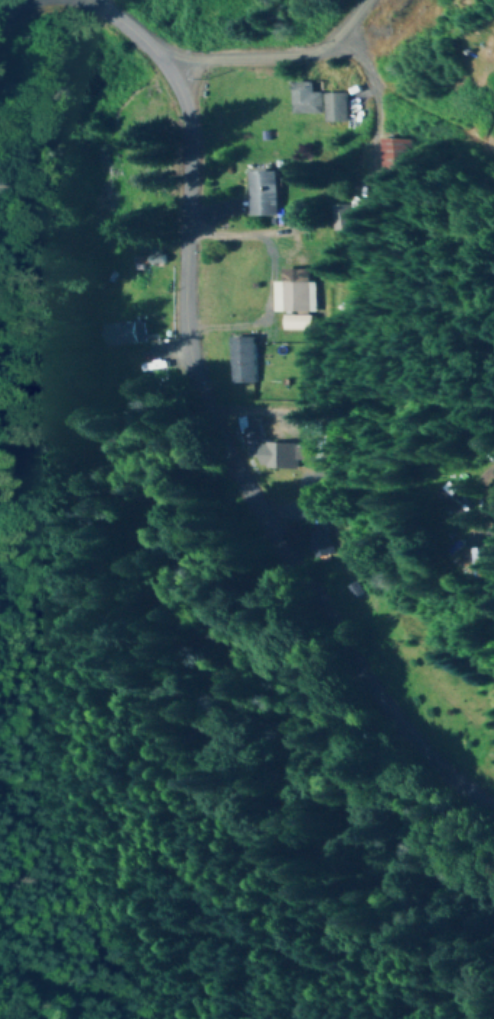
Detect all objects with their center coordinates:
road: (16, 14)
road: (284, 56)
building: (319, 103)
road: (361, 108)
building: (393, 157)
building: (268, 194)
building: (340, 218)
building: (293, 292)
building: (125, 335)
building: (244, 360)
road: (212, 430)
building: (278, 456)
building: (455, 502)
building: (313, 544)
road: (489, 546)

